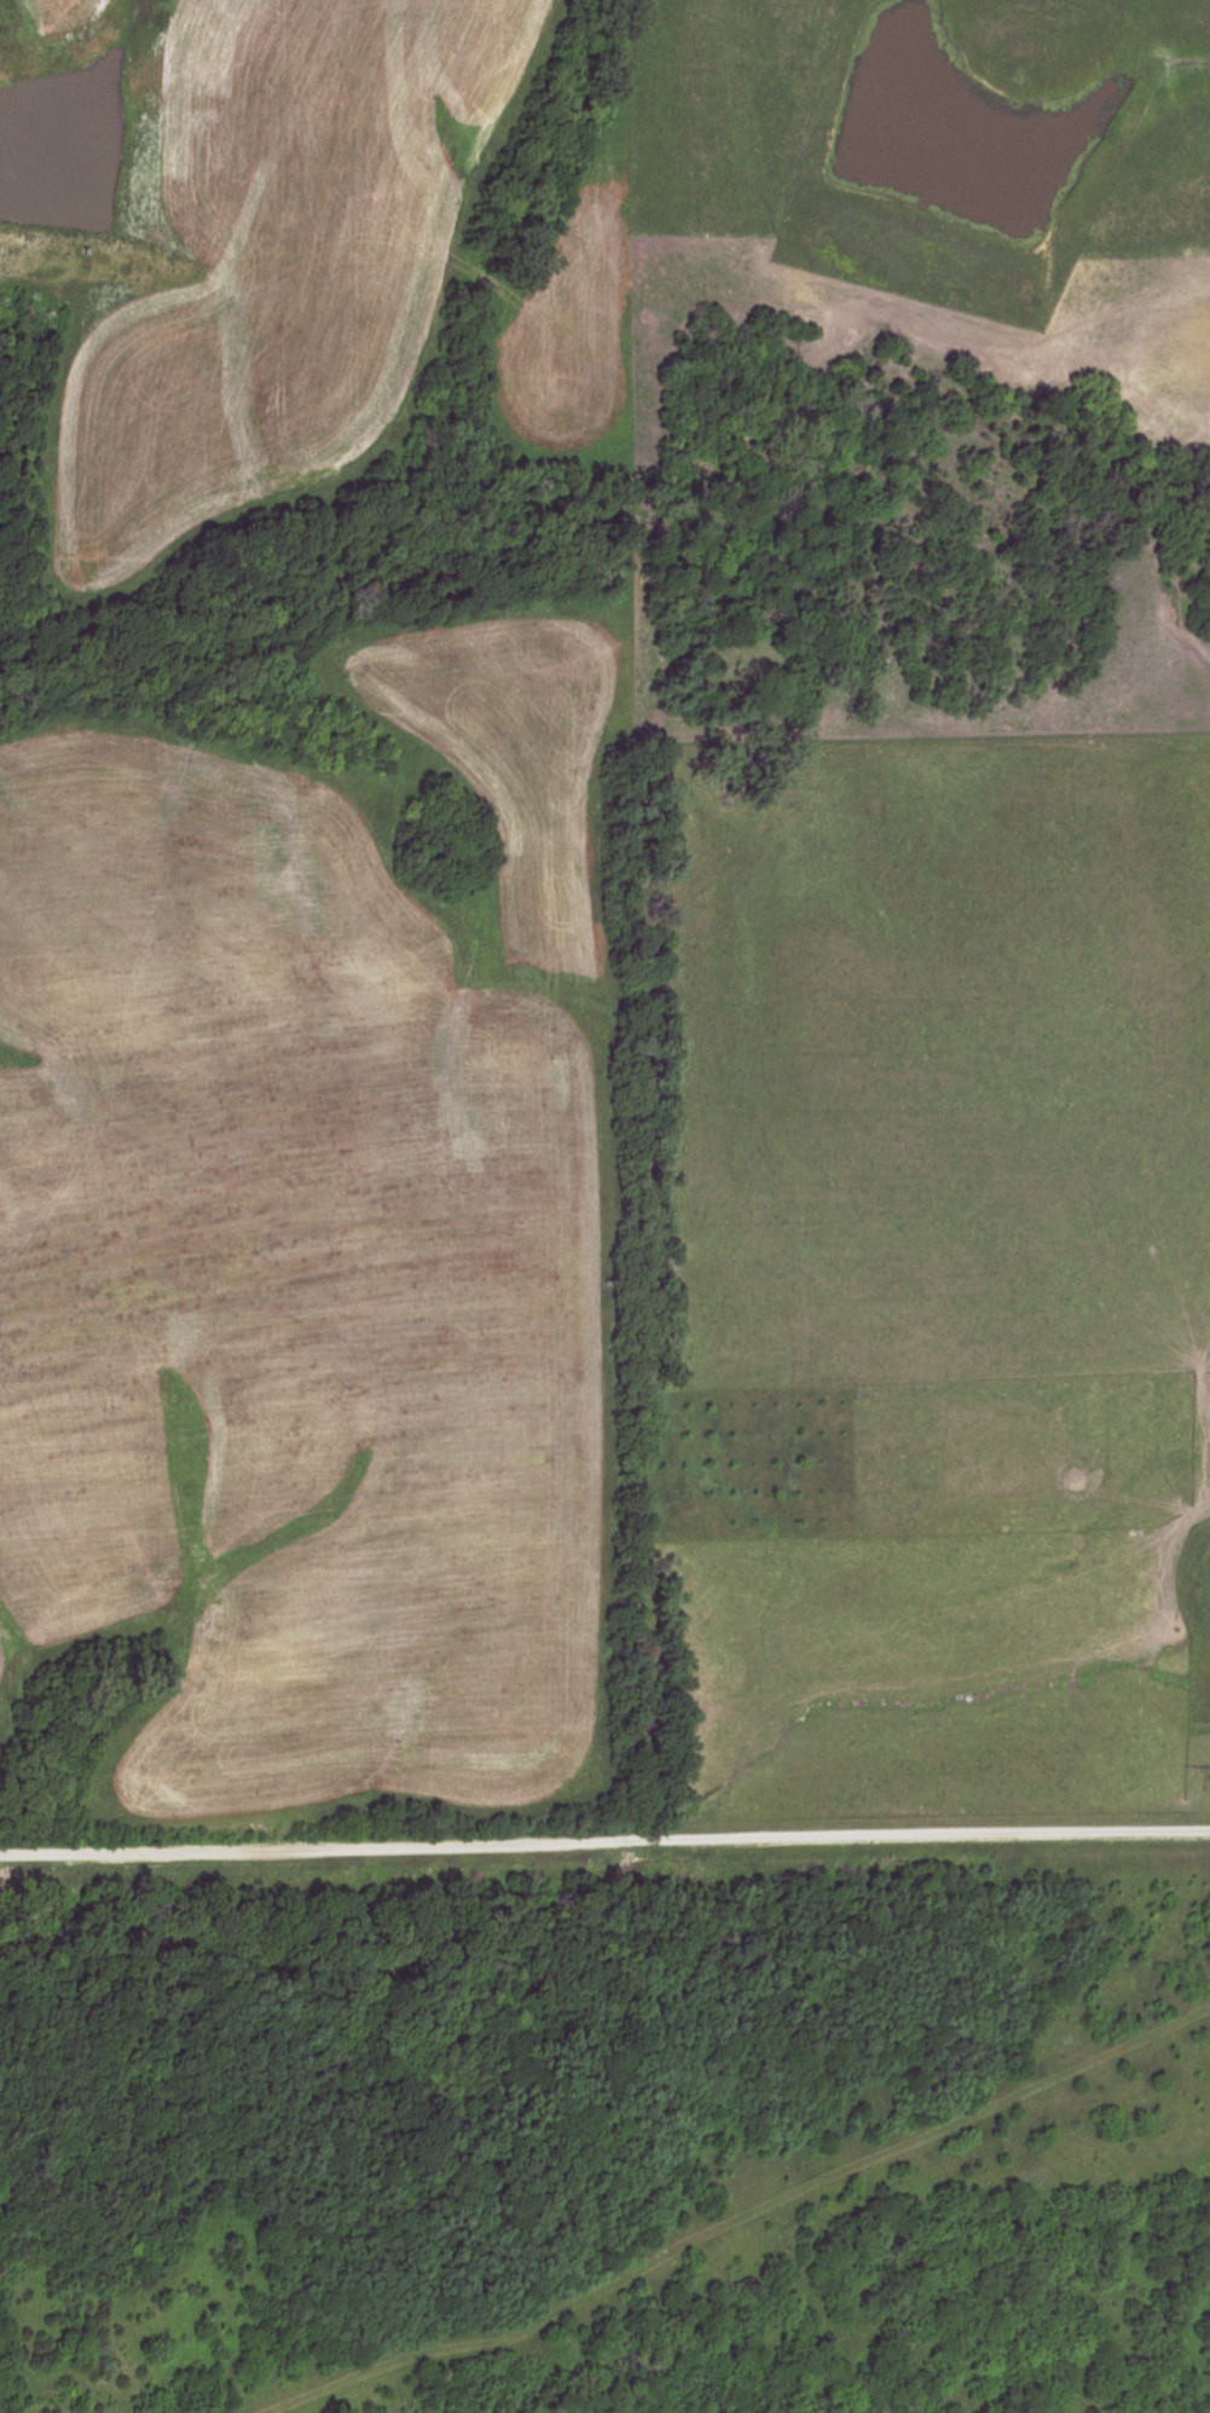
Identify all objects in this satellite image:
road: (604, 1841)

